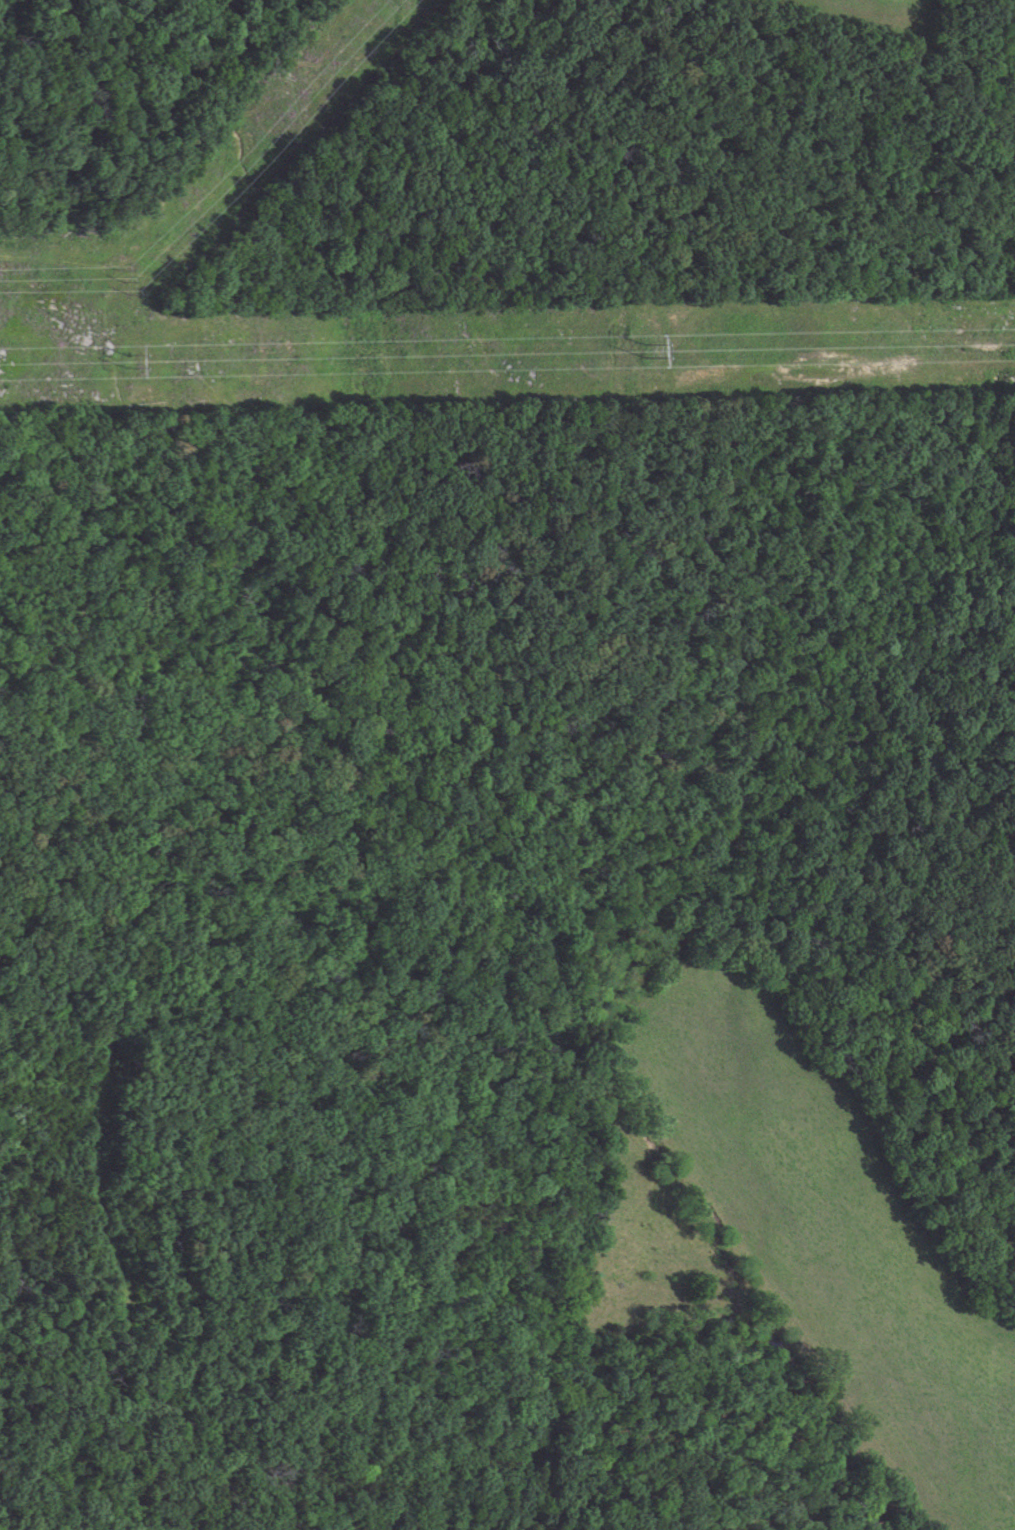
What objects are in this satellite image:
power tower: (118, 281)
power tower: (648, 351)
power tower: (123, 362)

